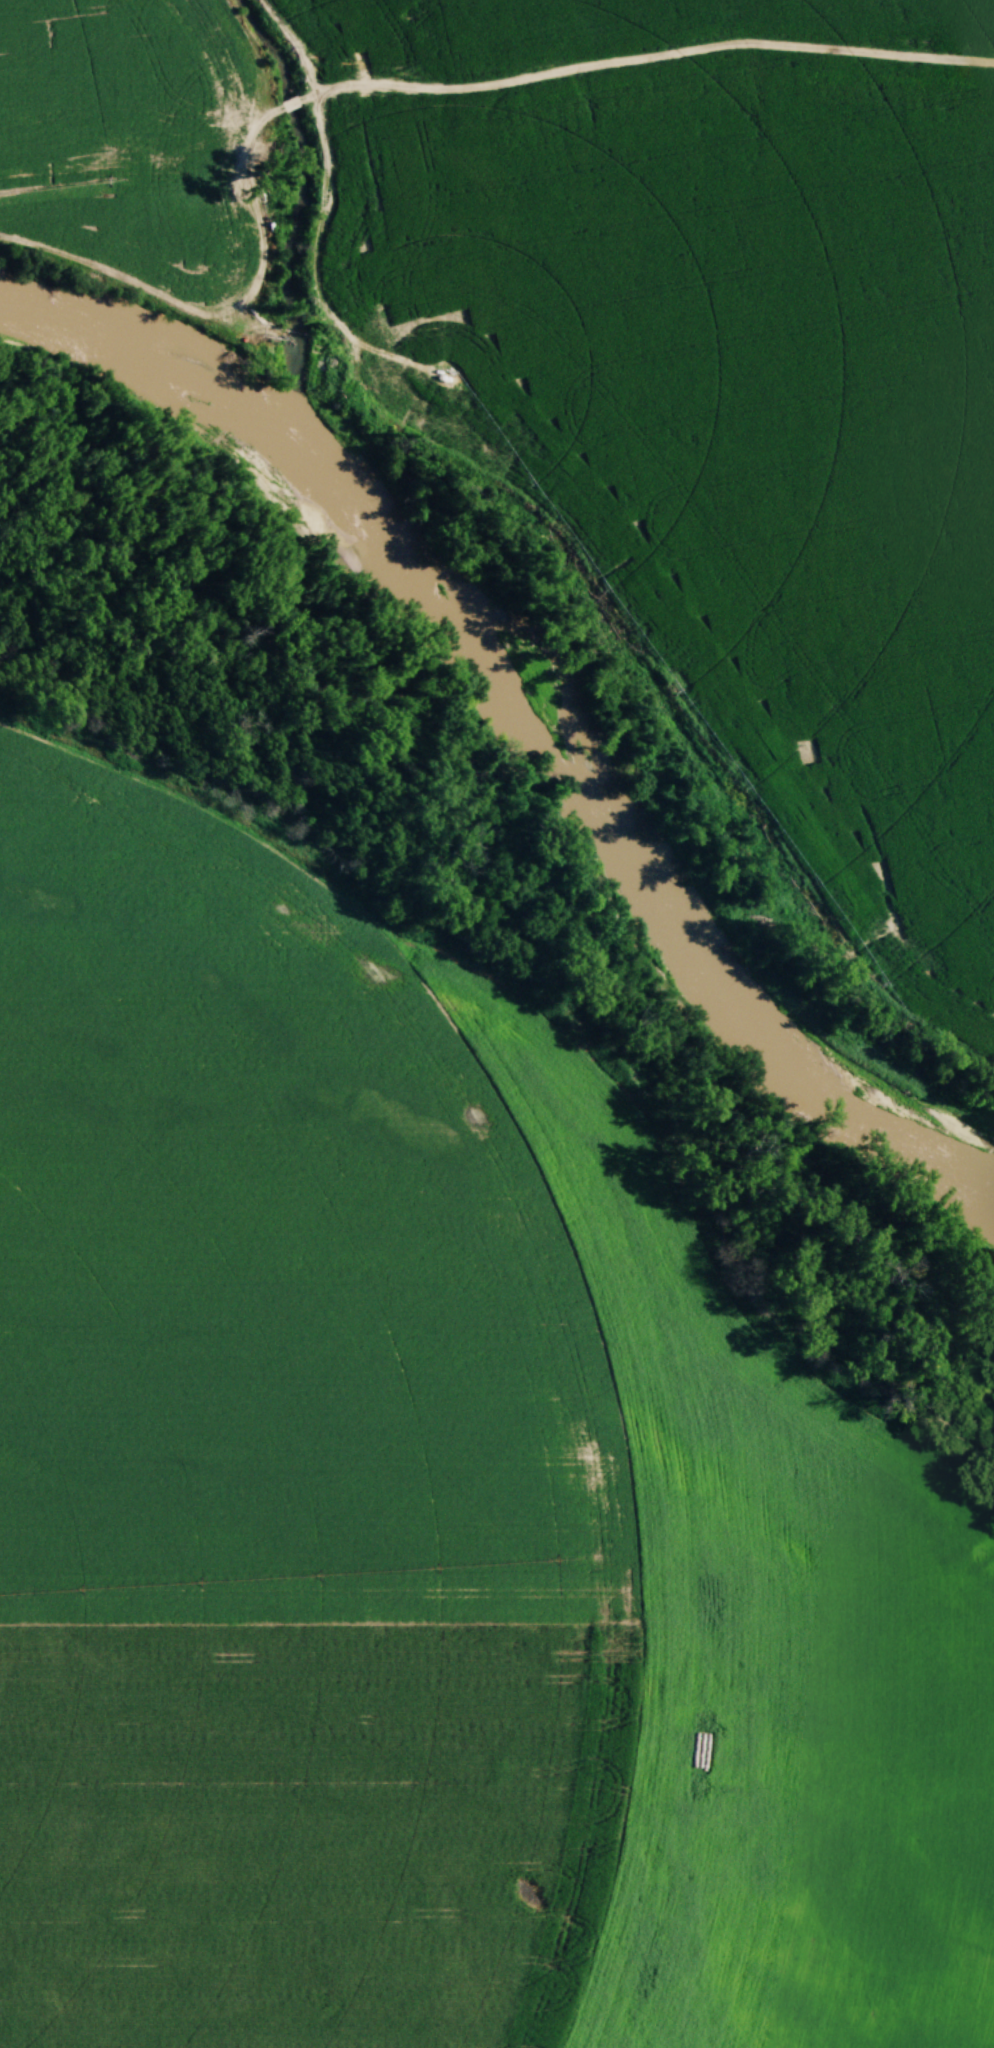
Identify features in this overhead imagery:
river: (509, 711)

